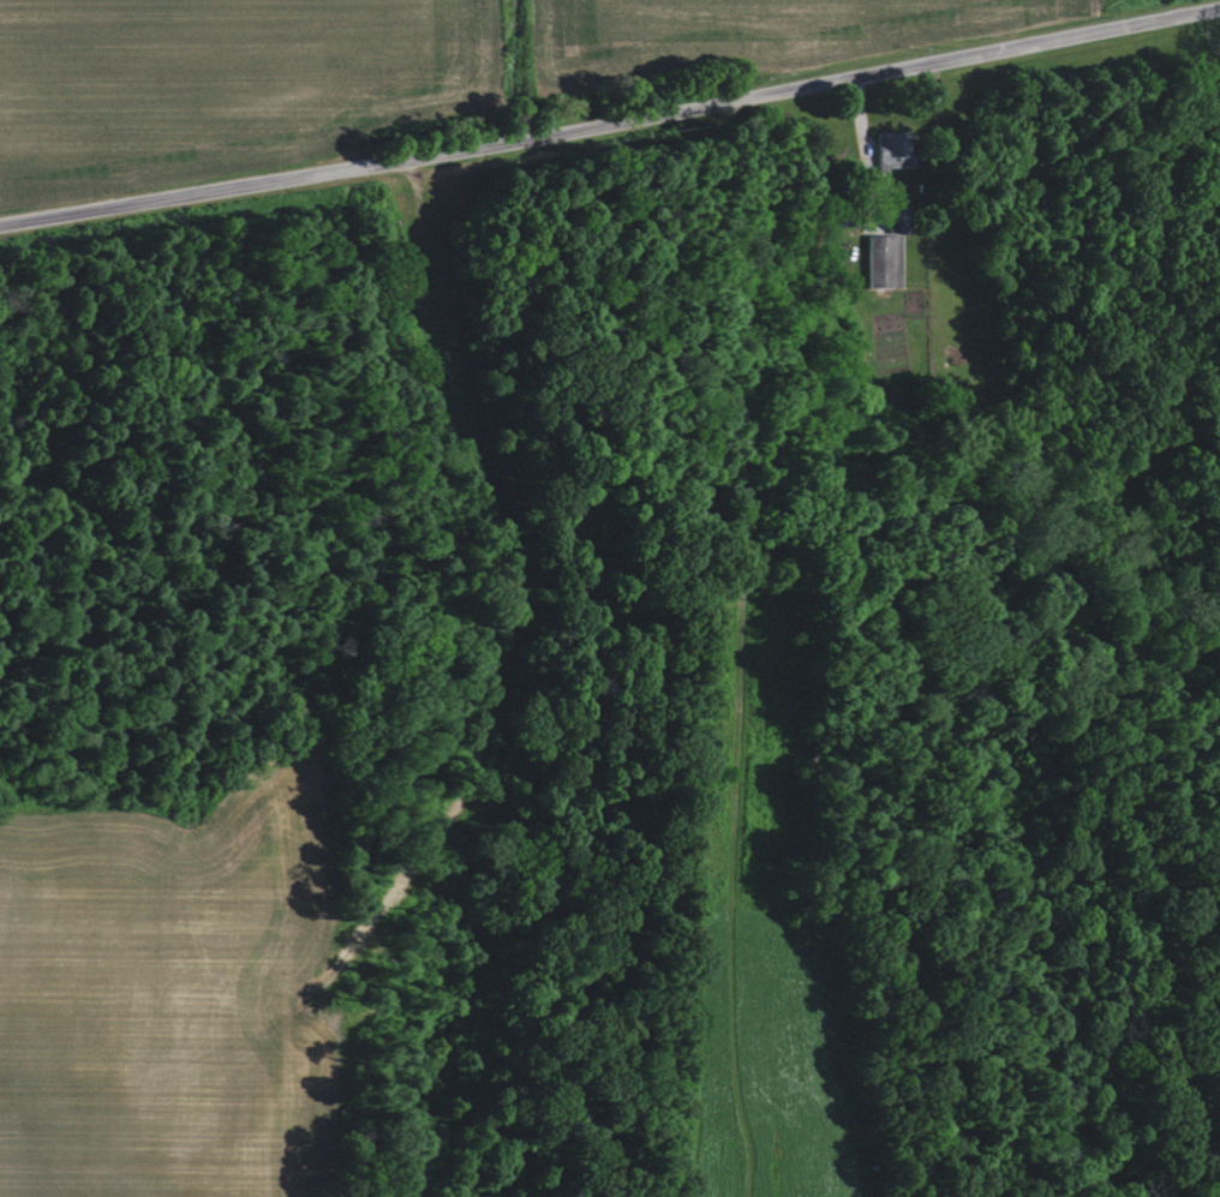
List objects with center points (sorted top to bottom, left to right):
helipad: (853, 4)
road: (610, 114)
road: (874, 140)
building: (893, 148)
building: (886, 256)
building: (956, 291)

